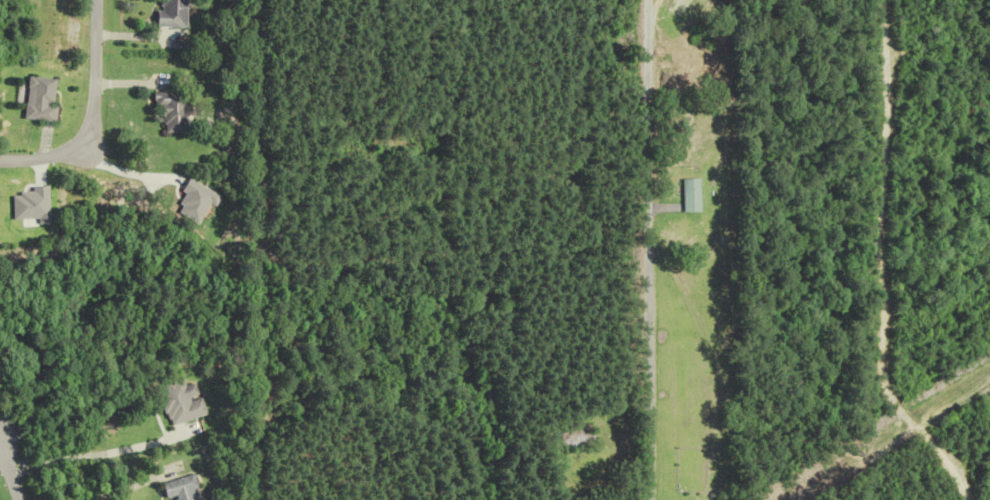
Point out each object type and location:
building: (168, 14)
road: (646, 30)
building: (46, 99)
building: (170, 112)
road: (93, 116)
road: (123, 171)
building: (693, 195)
road: (649, 266)
building: (180, 403)
building: (582, 437)
road: (12, 469)
road: (107, 485)
building: (180, 489)

